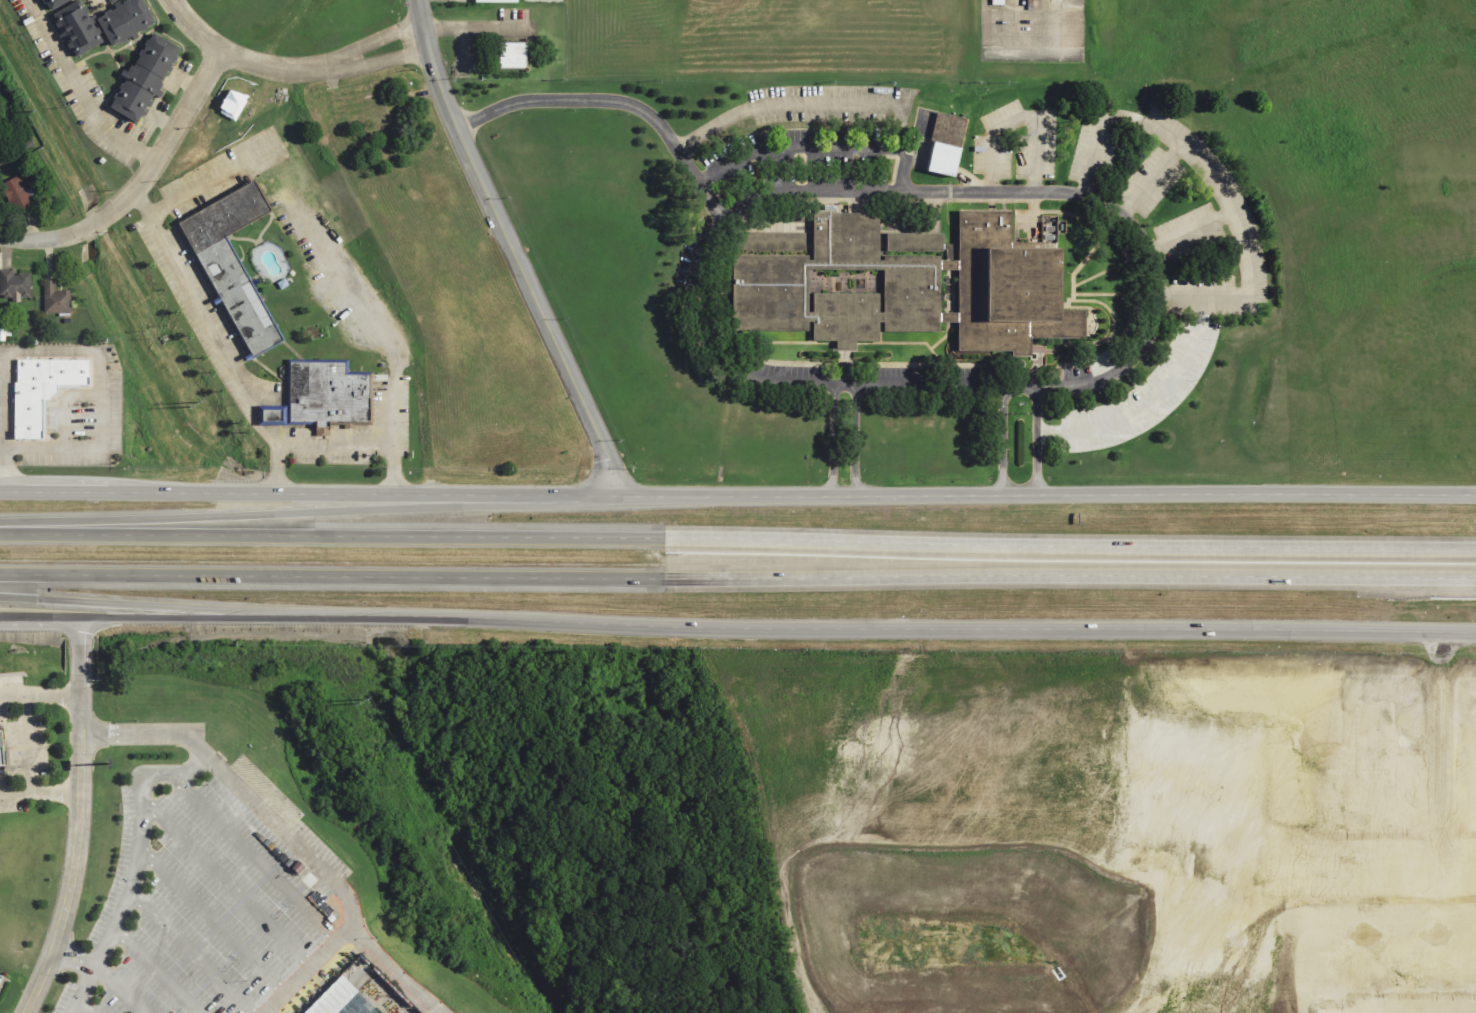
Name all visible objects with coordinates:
road: (457, 0)
building: (494, 0)
building: (996, 2)
building: (51, 3)
building: (125, 21)
building: (76, 27)
road: (1027, 47)
building: (511, 54)
road: (291, 69)
building: (144, 76)
road: (79, 90)
road: (616, 101)
road: (805, 103)
power tower: (30, 111)
road: (1020, 116)
building: (944, 143)
road: (821, 146)
building: (0, 161)
road: (219, 176)
road: (1150, 181)
road: (1210, 181)
road: (138, 183)
building: (15, 194)
road: (718, 216)
road: (1189, 236)
road: (518, 250)
road: (1085, 259)
building: (232, 264)
road: (1110, 270)
building: (14, 283)
building: (905, 284)
road: (1114, 294)
building: (54, 298)
road: (1110, 311)
road: (808, 332)
road: (218, 333)
road: (879, 333)
road: (945, 338)
road: (797, 342)
road: (844, 343)
road: (907, 343)
road: (844, 347)
road: (80, 351)
road: (978, 364)
road: (844, 367)
building: (39, 390)
building: (325, 394)
road: (1153, 401)
road: (63, 402)
power tower: (193, 404)
road: (830, 439)
road: (856, 440)
road: (1001, 441)
road: (1038, 441)
road: (359, 443)
road: (2, 445)
road: (737, 495)
road: (226, 509)
road: (331, 535)
road: (1069, 540)
road: (331, 575)
road: (1069, 579)
road: (143, 605)
road: (80, 624)
road: (737, 629)
road: (80, 657)
road: (80, 689)
road: (1374, 693)
road: (39, 696)
power tower: (357, 702)
road: (25, 743)
road: (1431, 743)
road: (1450, 745)
parking lot: (20, 746)
building: (0, 758)
road: (15, 791)
road: (54, 794)
road: (1348, 809)
road: (285, 833)
road: (1456, 852)
road: (1166, 855)
road: (75, 860)
road: (255, 860)
road: (135, 867)
road: (228, 885)
parking lot: (202, 907)
road: (212, 923)
road: (1323, 924)
road: (1364, 924)
road: (1473, 924)
road: (1291, 925)
road: (1398, 925)
road: (1437, 944)
road: (190, 952)
road: (75, 957)
road: (397, 971)
road: (155, 972)
parking lot: (2, 982)
road: (119, 989)
road: (1298, 995)
road: (1362, 995)
building: (331, 997)
building: (1397, 1005)
building: (1463, 1006)
road: (82, 1009)

